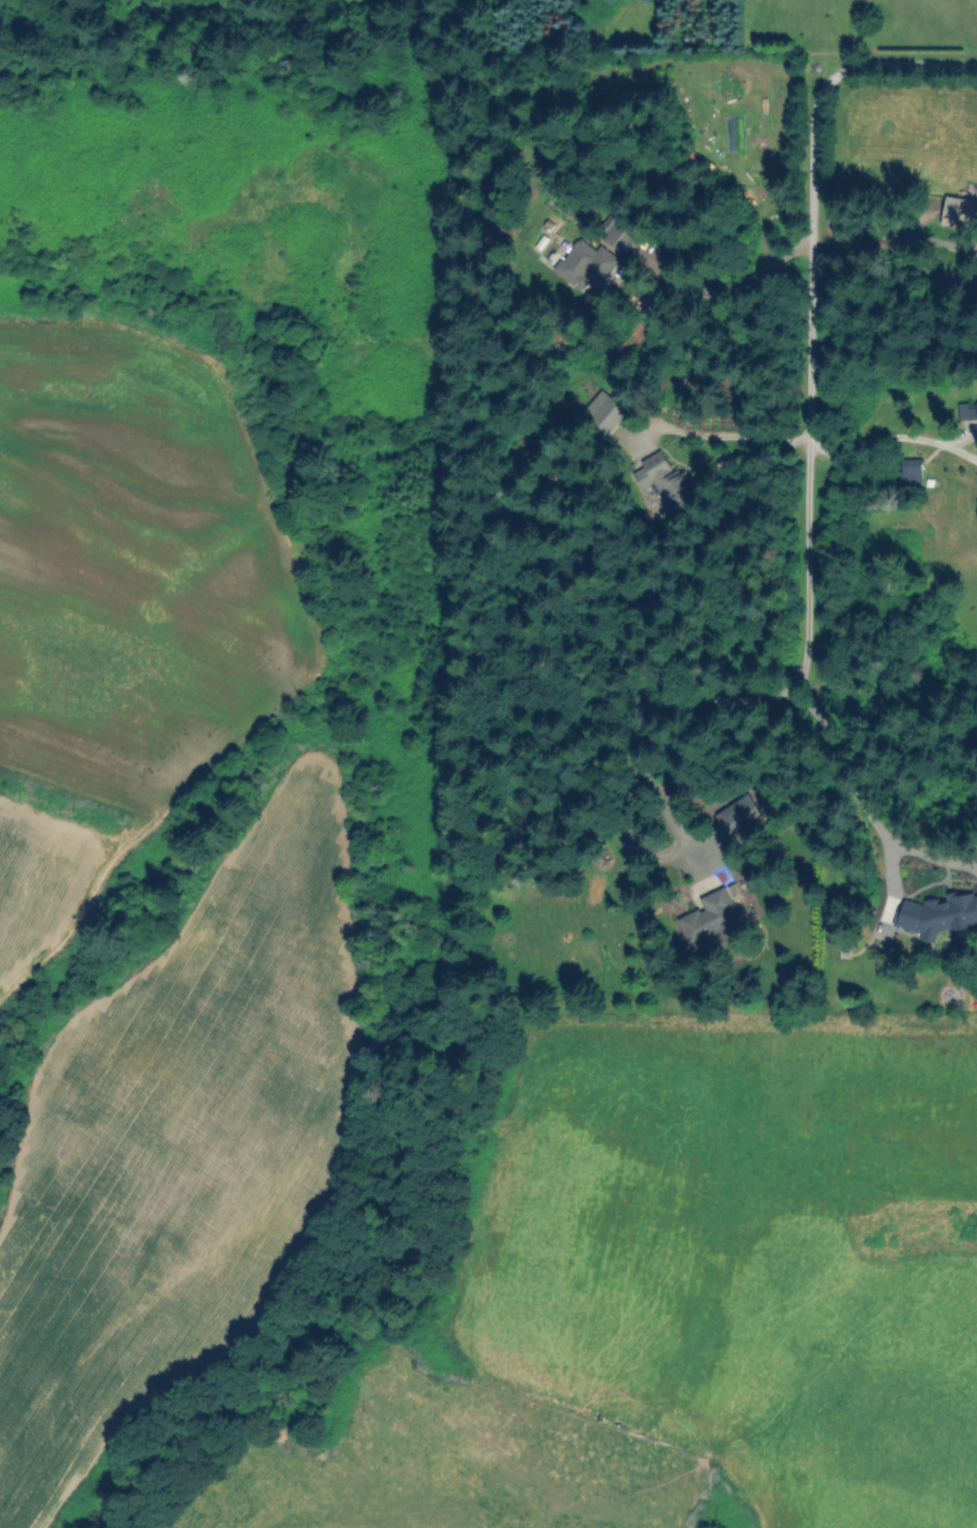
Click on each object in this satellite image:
road: (917, 67)
building: (959, 212)
building: (615, 232)
building: (559, 244)
building: (584, 263)
building: (971, 411)
building: (602, 412)
road: (962, 436)
road: (878, 437)
road: (729, 438)
road: (962, 451)
road: (808, 455)
building: (663, 480)
building: (976, 502)
road: (846, 785)
building: (737, 814)
building: (936, 914)
building: (707, 917)

